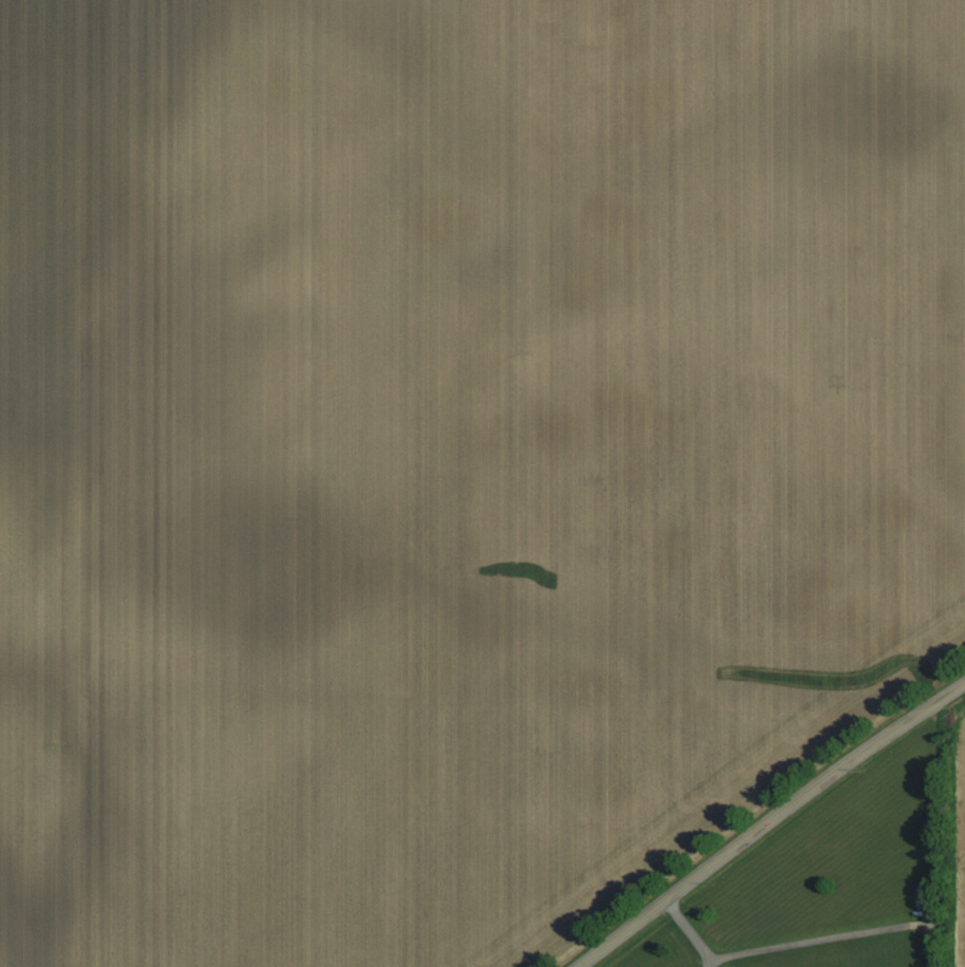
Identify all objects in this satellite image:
road: (768, 821)
road: (688, 932)
road: (814, 933)

